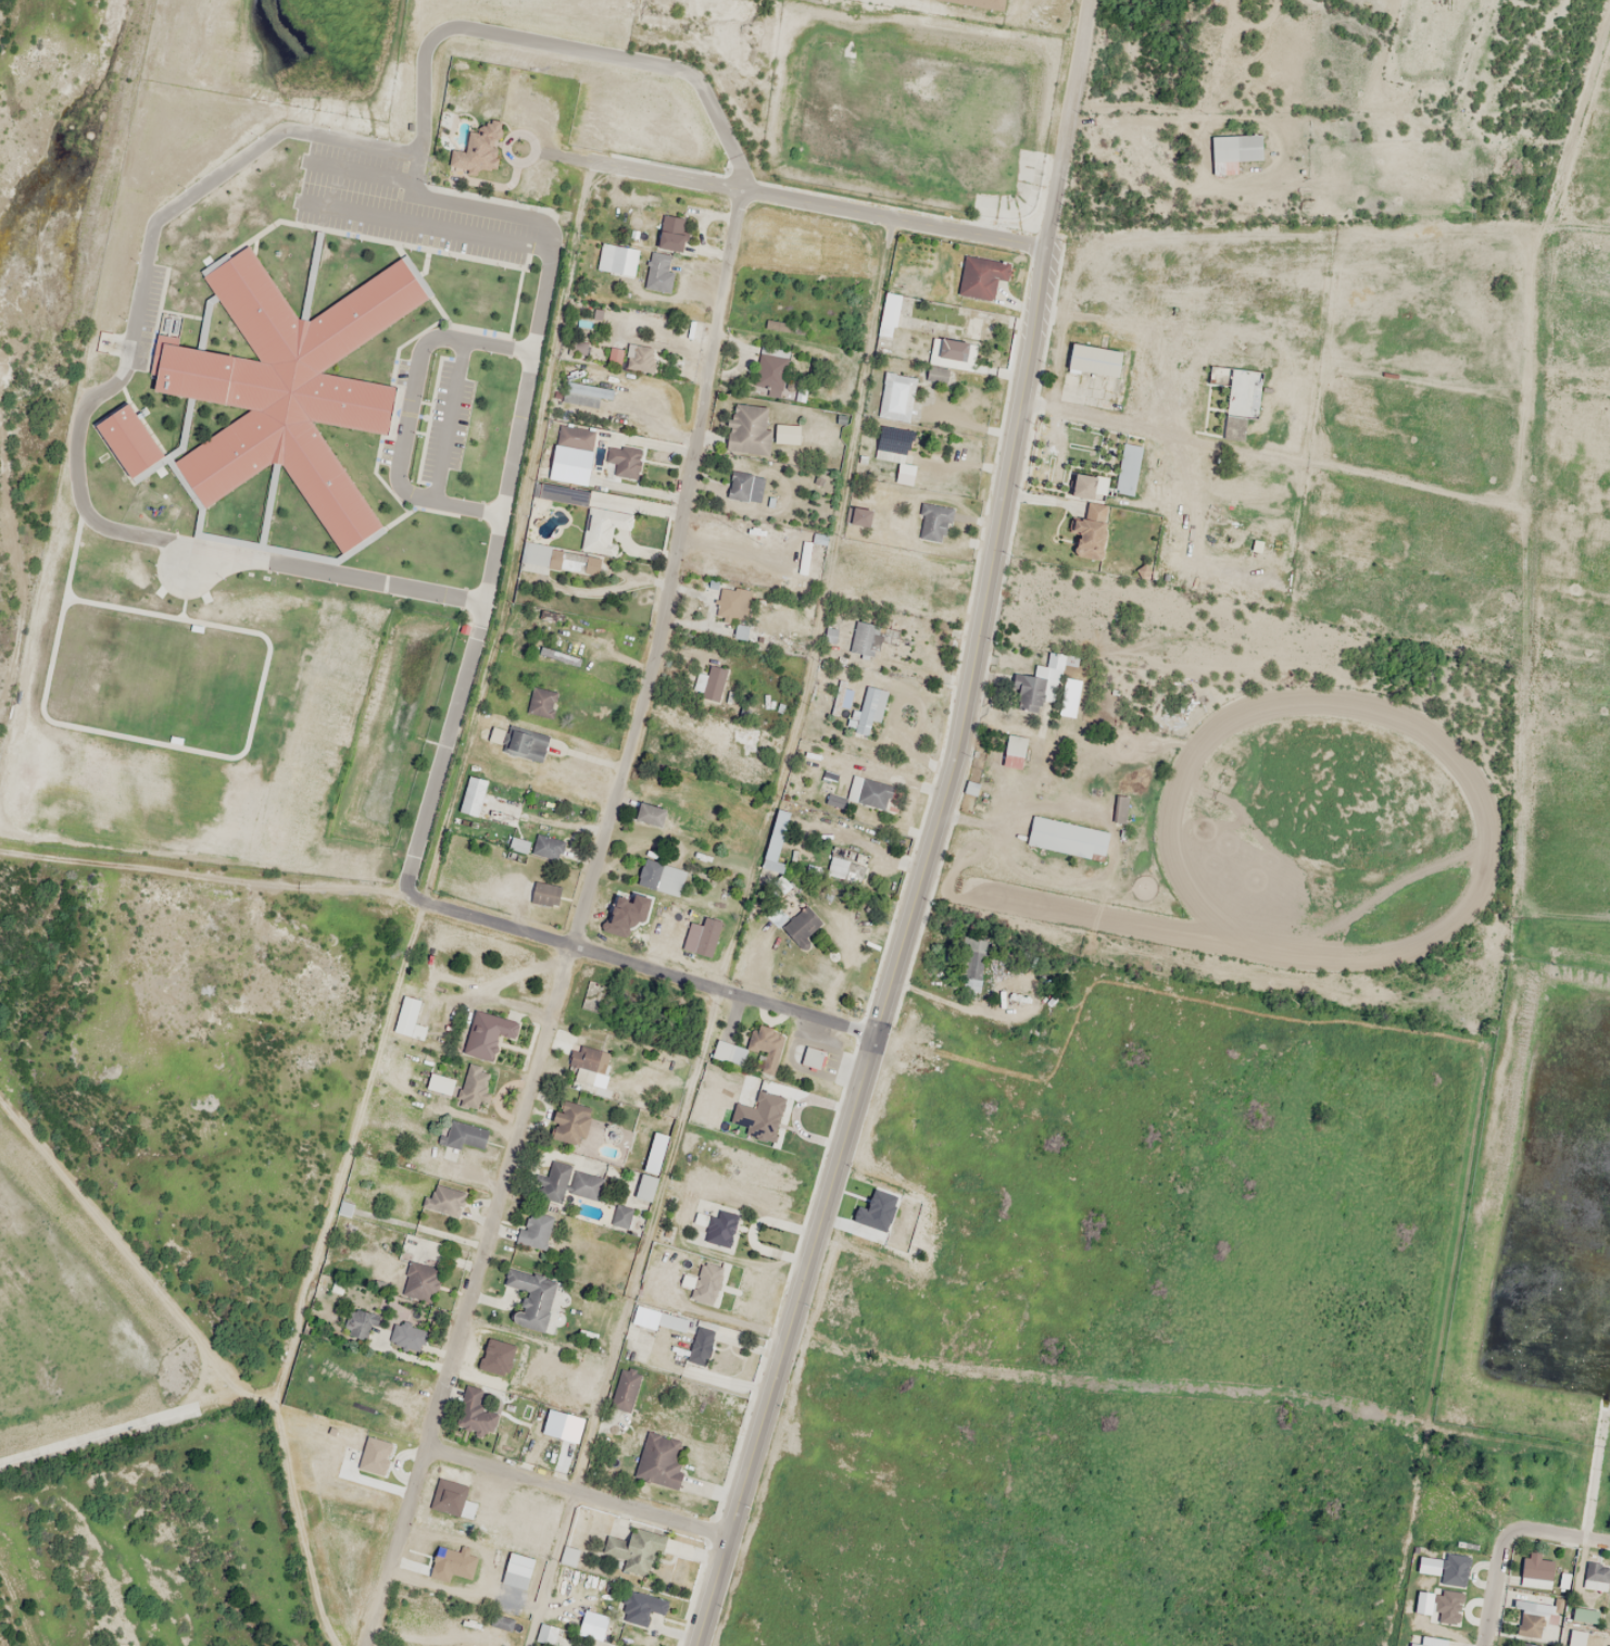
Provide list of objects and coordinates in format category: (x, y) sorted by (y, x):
building: (1216, 0)
building: (477, 150)
building: (1233, 151)
road: (804, 201)
building: (671, 234)
building: (658, 273)
building: (640, 357)
building: (948, 357)
building: (281, 385)
building: (584, 393)
building: (747, 429)
building: (116, 435)
building: (575, 437)
road: (75, 443)
building: (894, 451)
building: (624, 460)
building: (1127, 468)
building: (739, 486)
building: (858, 517)
building: (933, 523)
building: (602, 529)
building: (1089, 532)
building: (804, 557)
building: (574, 563)
building: (941, 599)
building: (738, 631)
building: (863, 638)
building: (1055, 661)
building: (709, 682)
building: (1028, 691)
building: (841, 701)
building: (868, 711)
building: (649, 815)
road: (931, 832)
building: (1067, 838)
building: (773, 842)
building: (546, 847)
building: (852, 871)
building: (661, 877)
building: (543, 894)
road: (580, 921)
building: (801, 926)
building: (701, 937)
road: (647, 965)
building: (970, 980)
building: (406, 1016)
building: (487, 1034)
building: (728, 1053)
building: (810, 1056)
building: (471, 1086)
building: (465, 1135)
building: (651, 1166)
building: (584, 1184)
building: (541, 1186)
building: (443, 1199)
building: (620, 1217)
building: (533, 1231)
building: (420, 1281)
building: (530, 1298)
building: (656, 1319)
building: (356, 1323)
building: (410, 1330)
building: (700, 1345)
building: (624, 1391)
building: (473, 1411)
building: (651, 1457)
road: (576, 1485)
road: (1558, 1531)
building: (633, 1550)
building: (518, 1565)
building: (1536, 1570)
building: (1596, 1575)
road: (1495, 1584)
building: (1584, 1614)
building: (1576, 1637)
building: (1426, 1643)
building: (1524, 1644)

